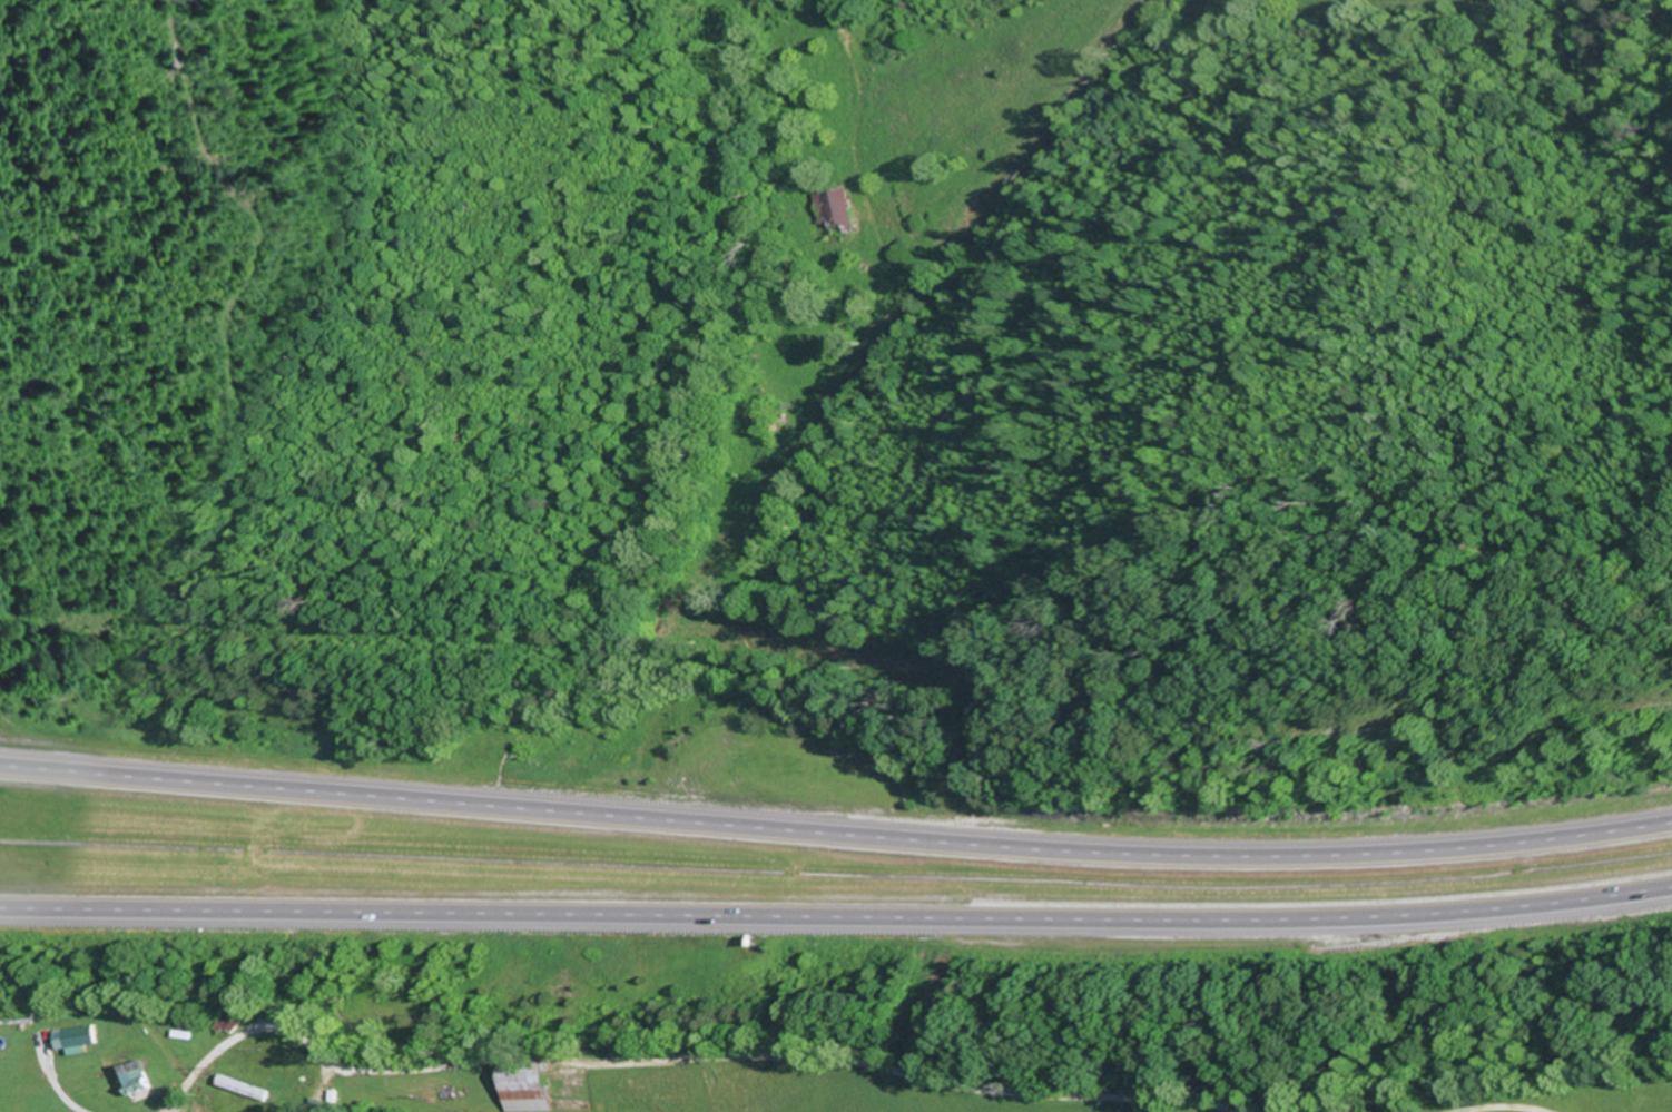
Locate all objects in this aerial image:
building: (827, 210)
road: (836, 830)
road: (836, 922)
building: (14, 1020)
road: (692, 1060)
building: (132, 1081)
building: (523, 1088)
building: (282, 1089)

